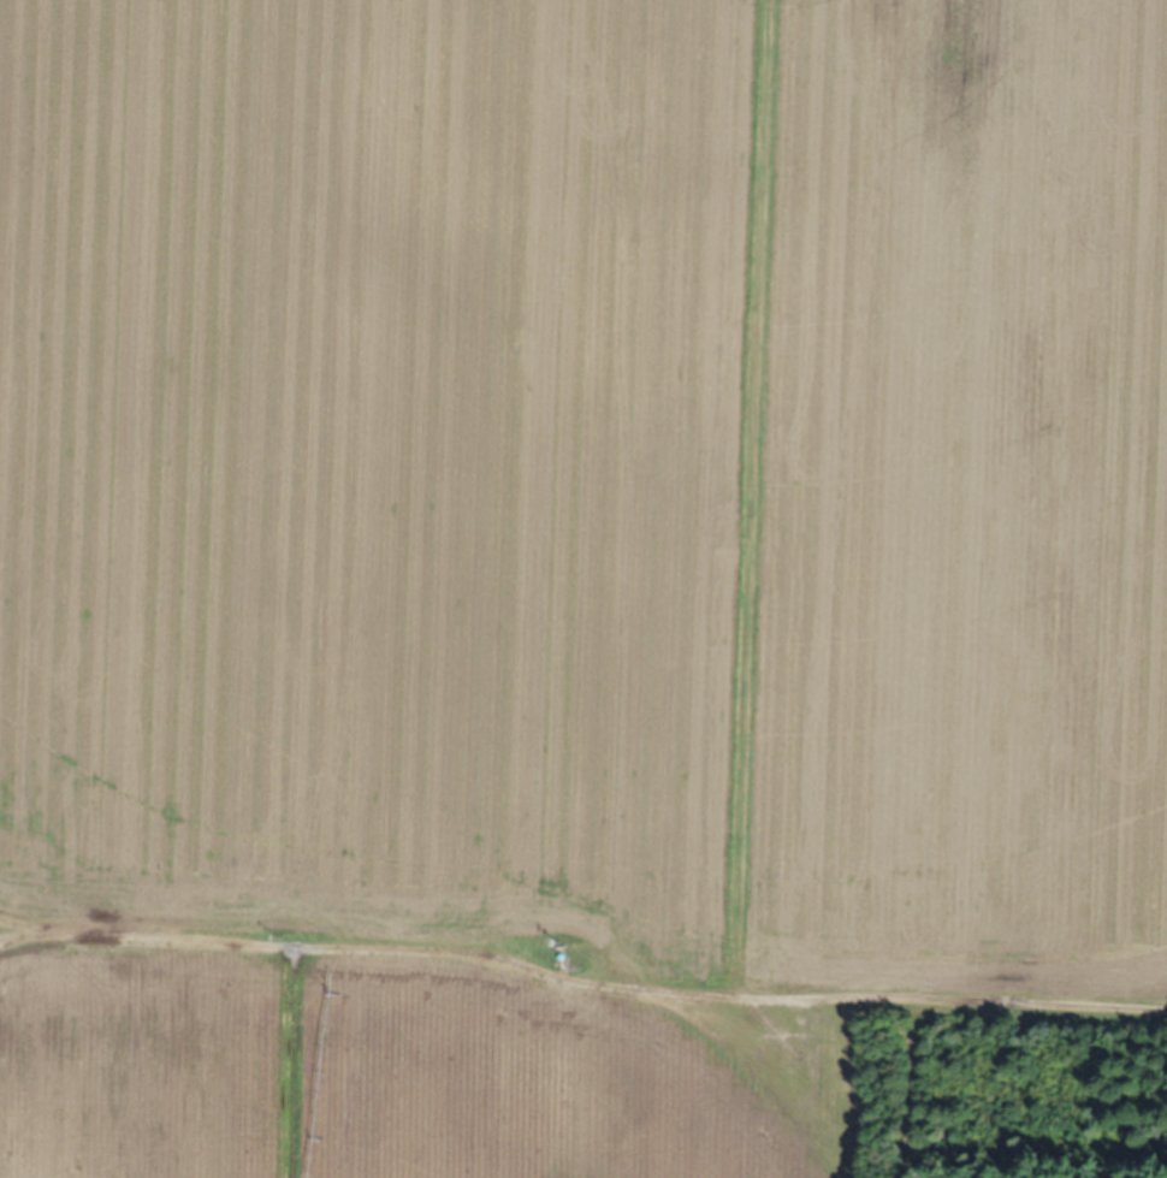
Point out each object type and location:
crop: (567, 570)

